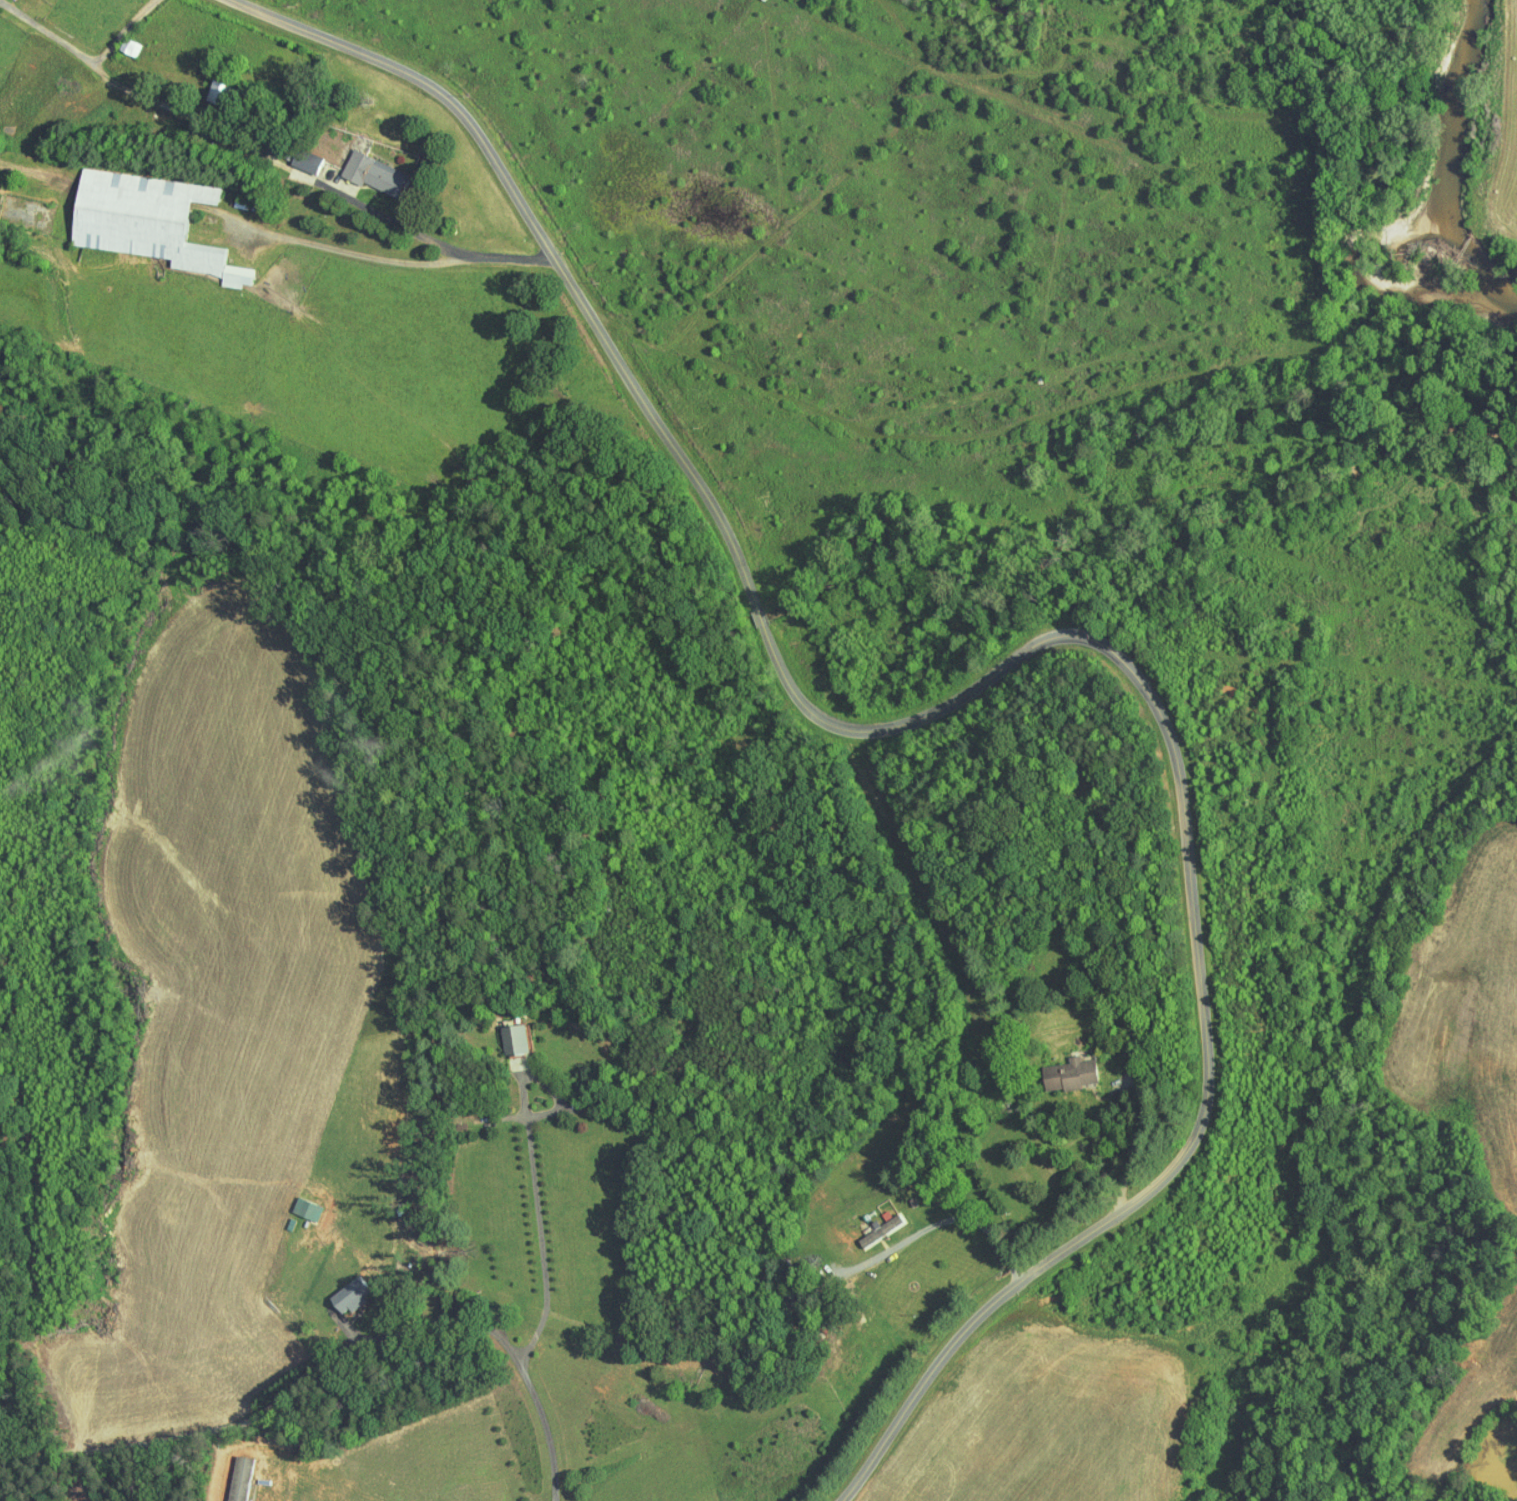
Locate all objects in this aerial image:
road: (124, 31)
building: (124, 40)
building: (3, 139)
road: (269, 156)
building: (369, 168)
river: (1366, 183)
building: (141, 215)
road: (355, 254)
road: (991, 677)
building: (507, 1032)
building: (1065, 1067)
road: (1143, 1132)
road: (534, 1178)
building: (298, 1202)
road: (944, 1219)
building: (872, 1224)
building: (344, 1288)
road: (1440, 1291)
road: (452, 1309)
road: (247, 1417)
road: (8, 1447)
building: (232, 1474)
road: (2, 1498)

